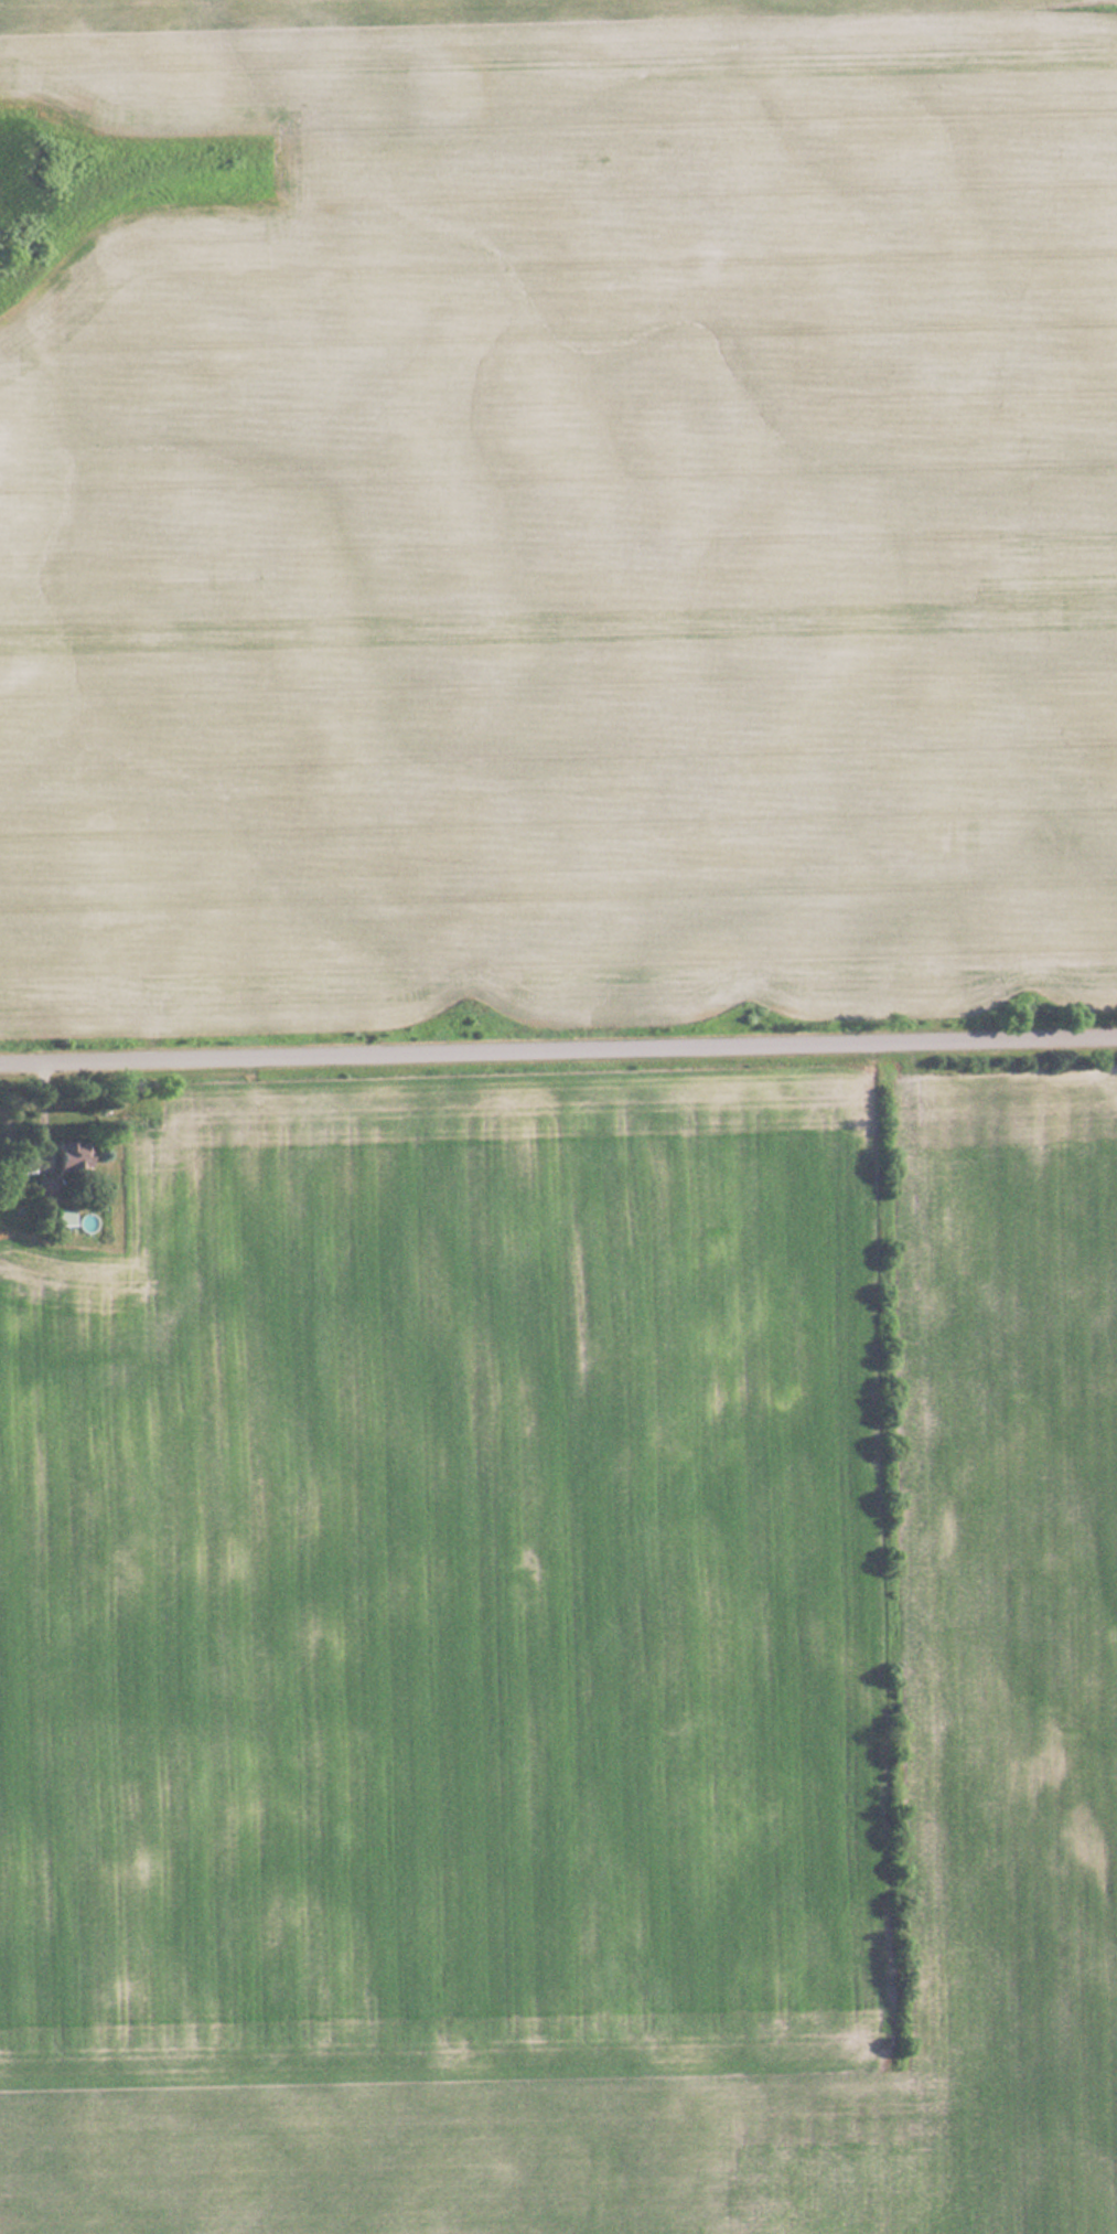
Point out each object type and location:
road: (558, 1051)
building: (67, 1156)
building: (61, 1216)

